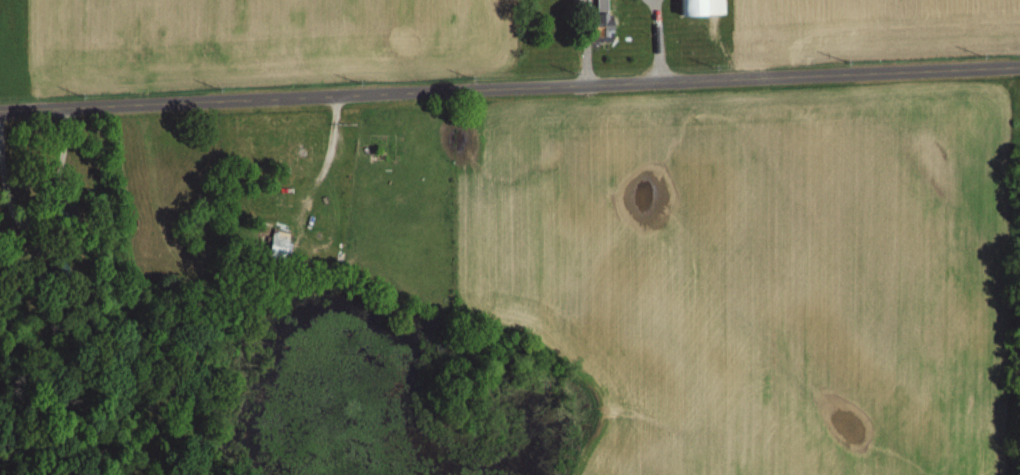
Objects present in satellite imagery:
building: (703, 6)
building: (604, 22)
road: (510, 92)
building: (305, 154)
building: (281, 239)

